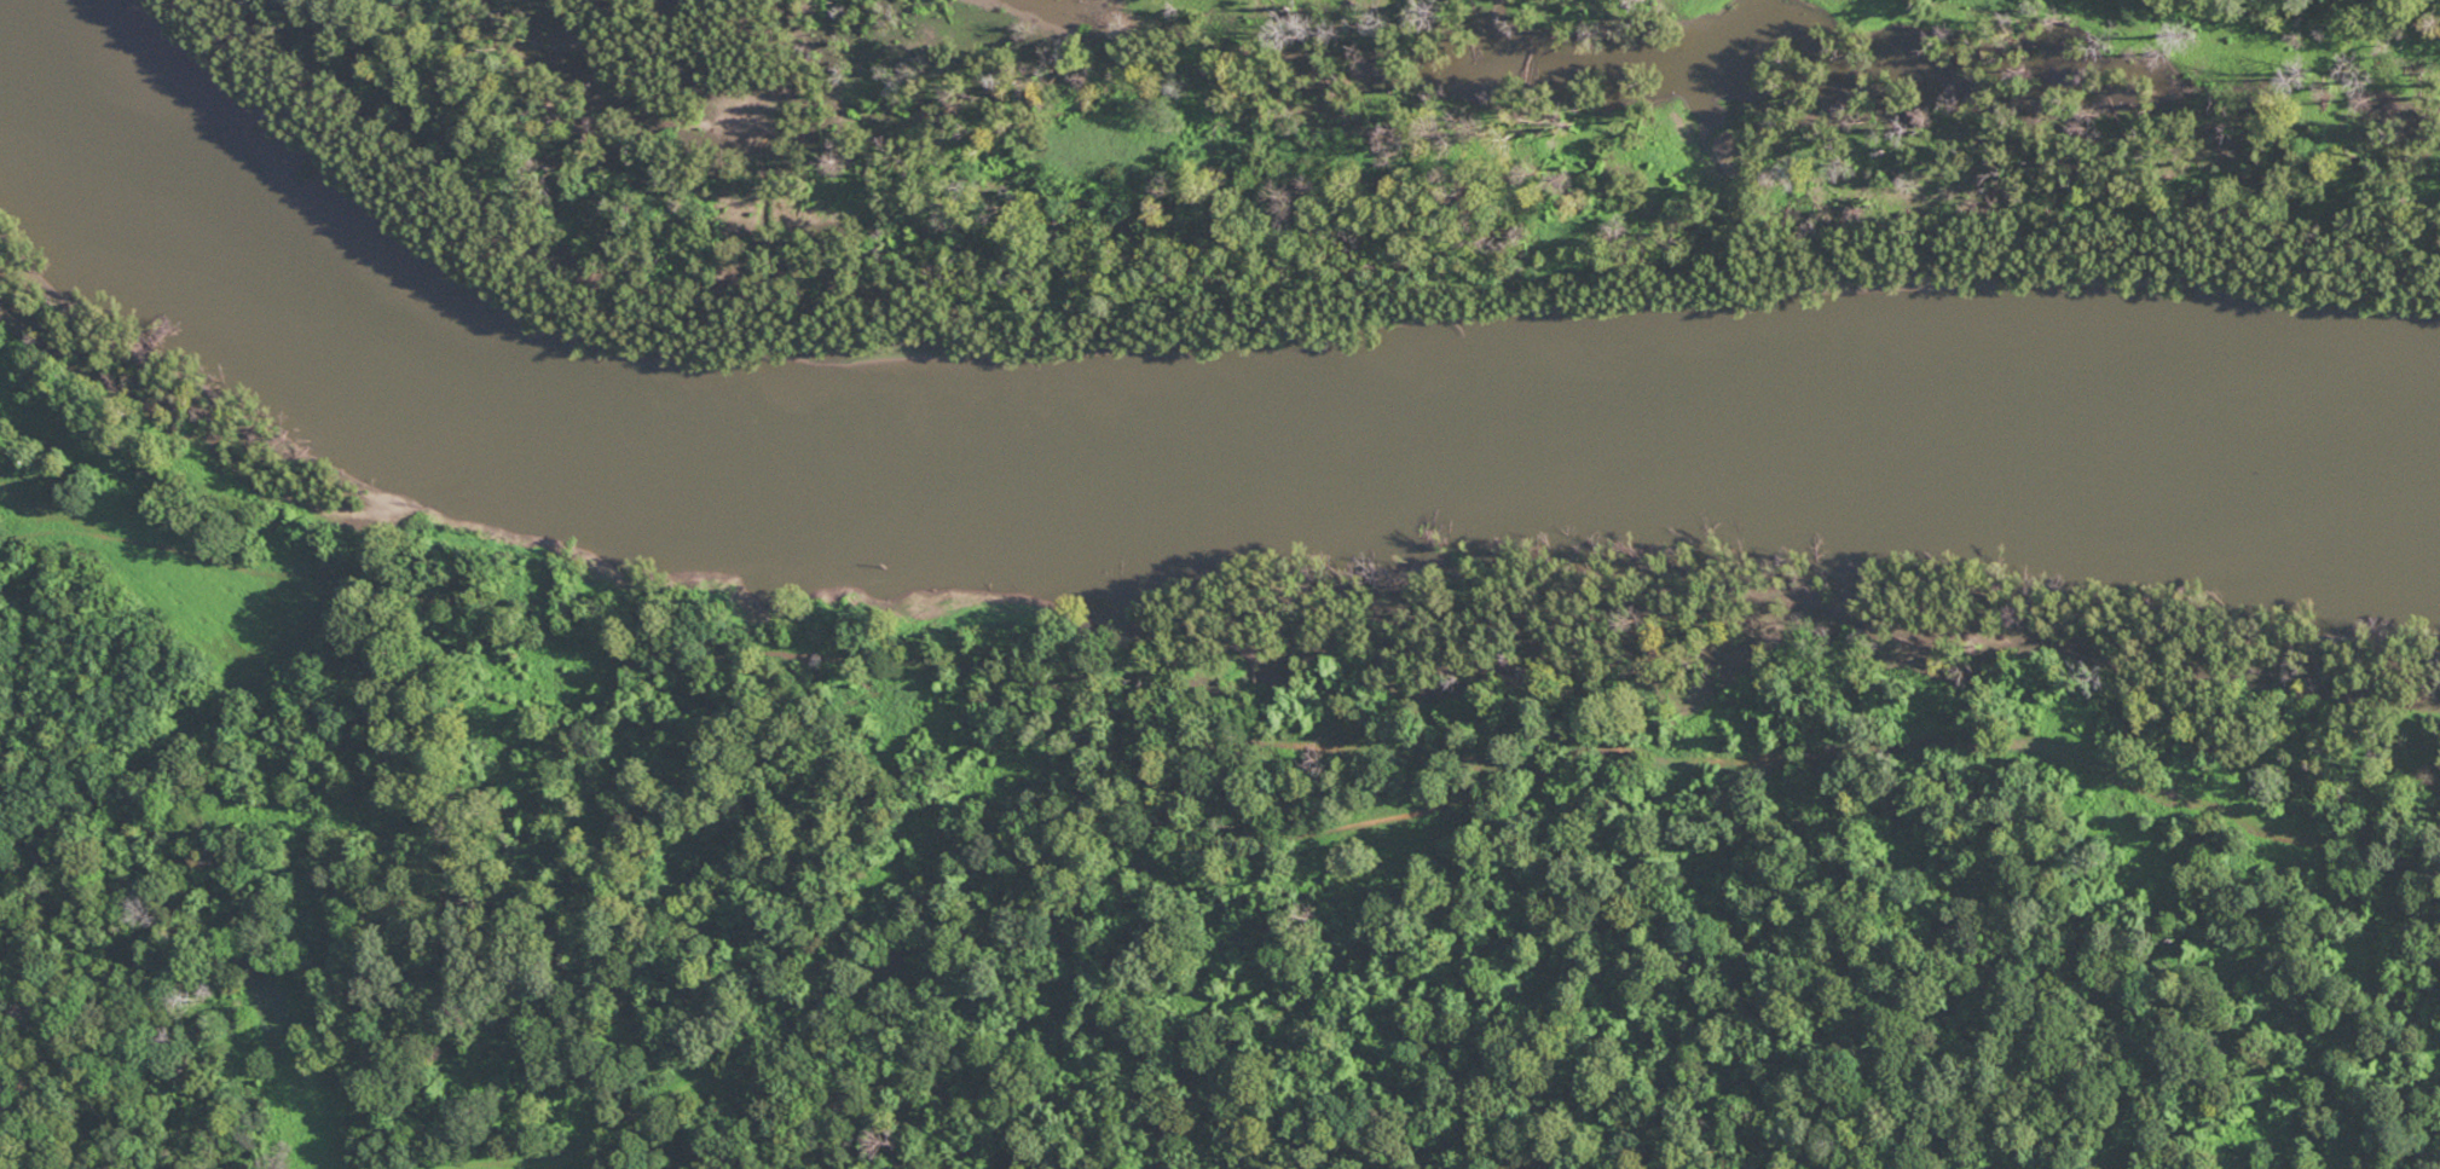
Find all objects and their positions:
road: (1305, 25)
river: (1179, 452)
road: (7, 554)

